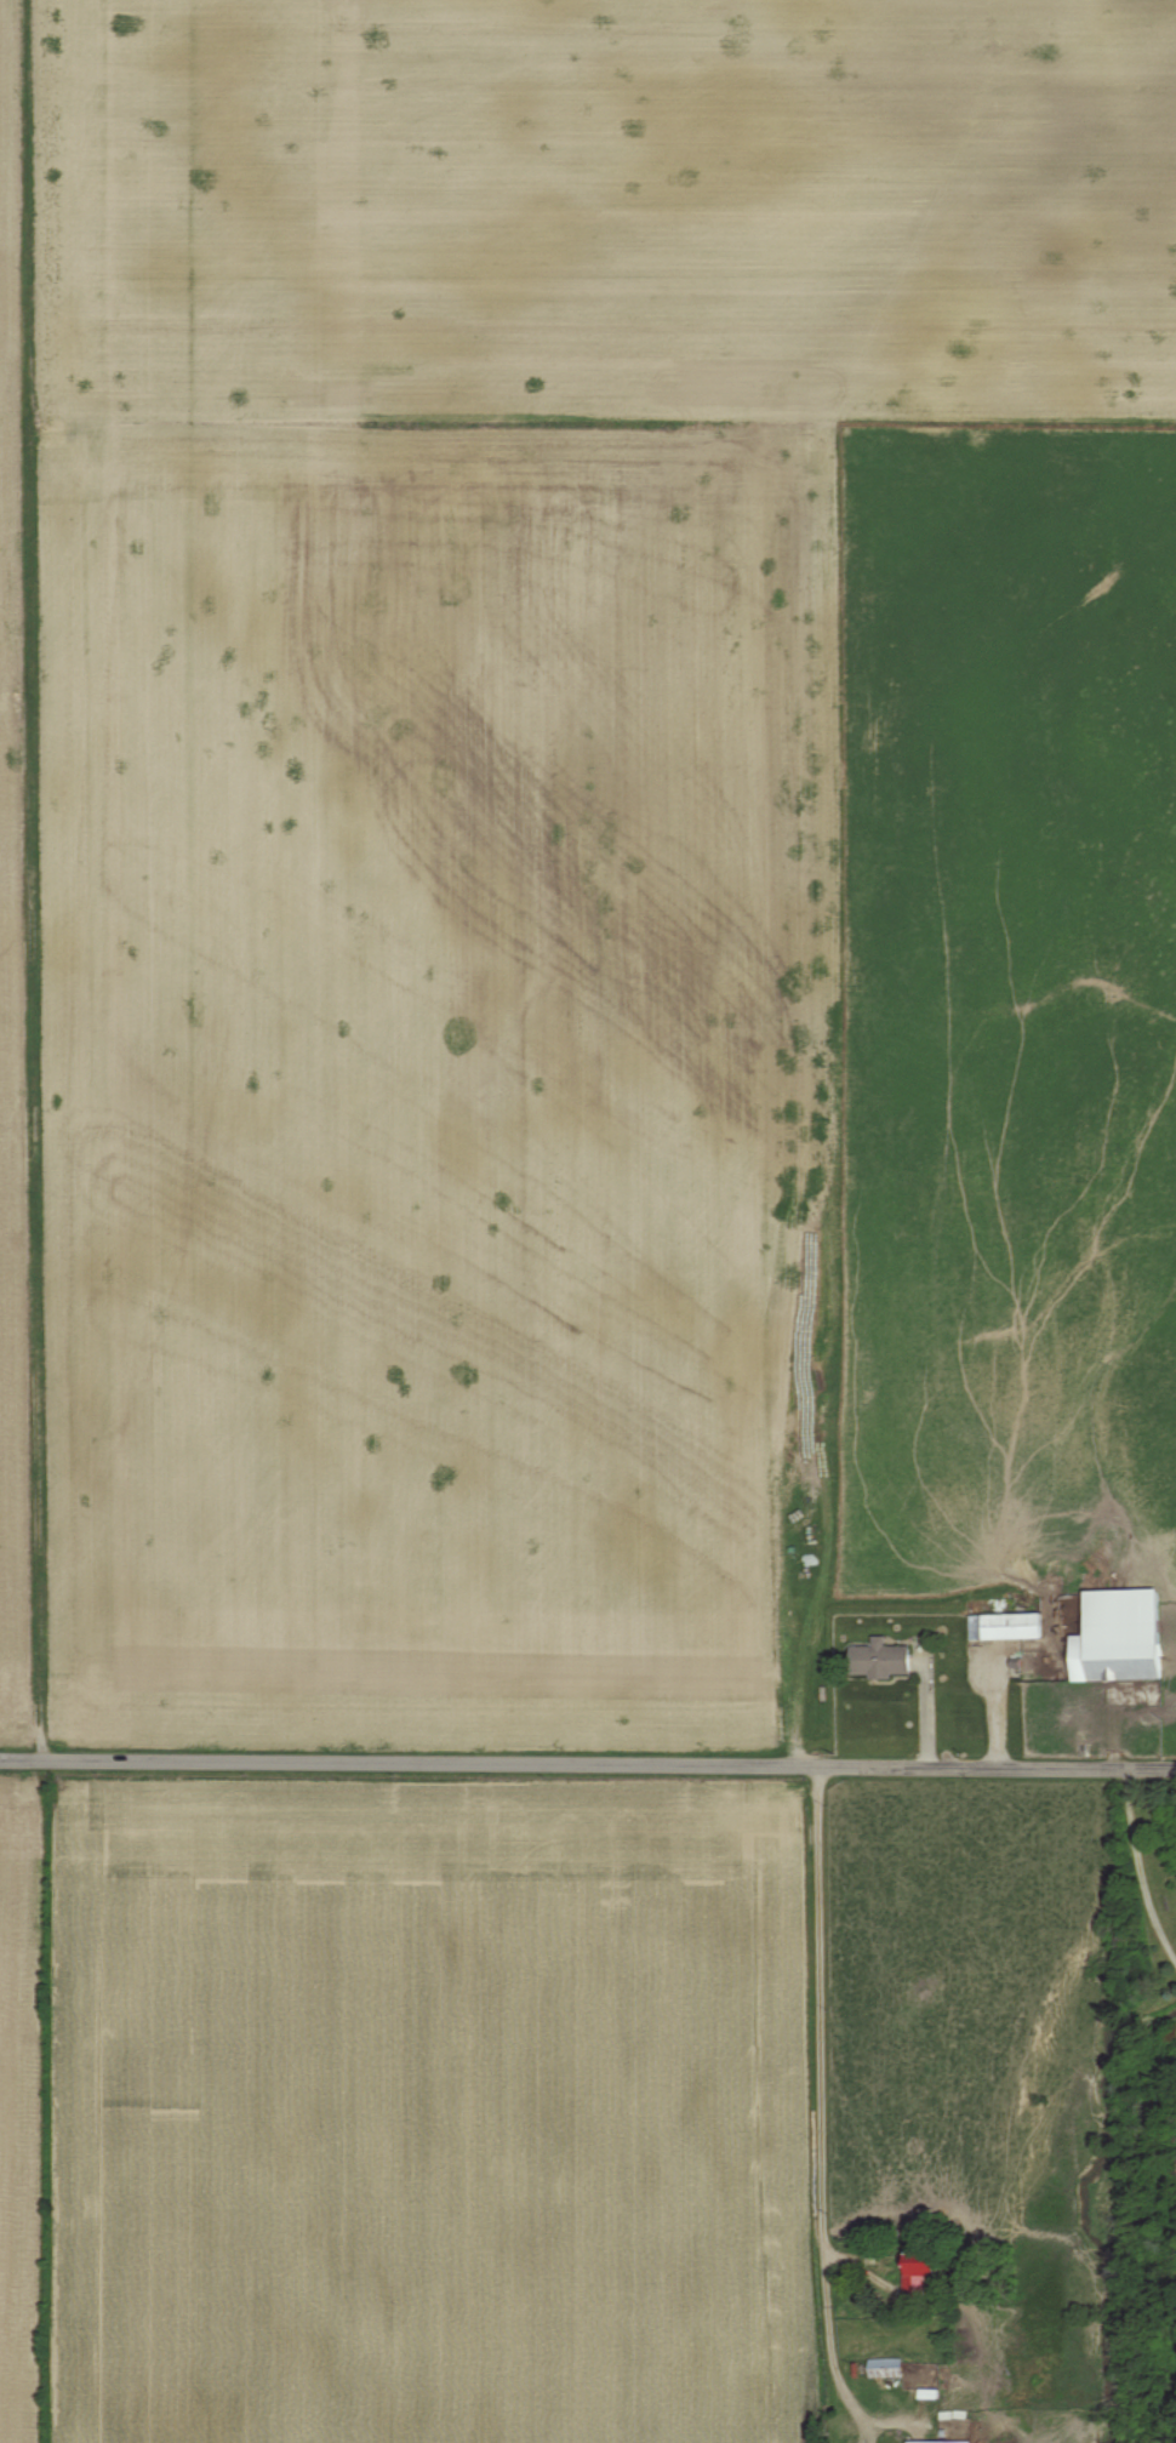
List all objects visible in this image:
road: (35, 874)
building: (1001, 1627)
building: (1117, 1636)
building: (877, 1660)
road: (587, 1760)
road: (1137, 1871)
road: (826, 2105)
building: (913, 2278)
building: (880, 2368)

